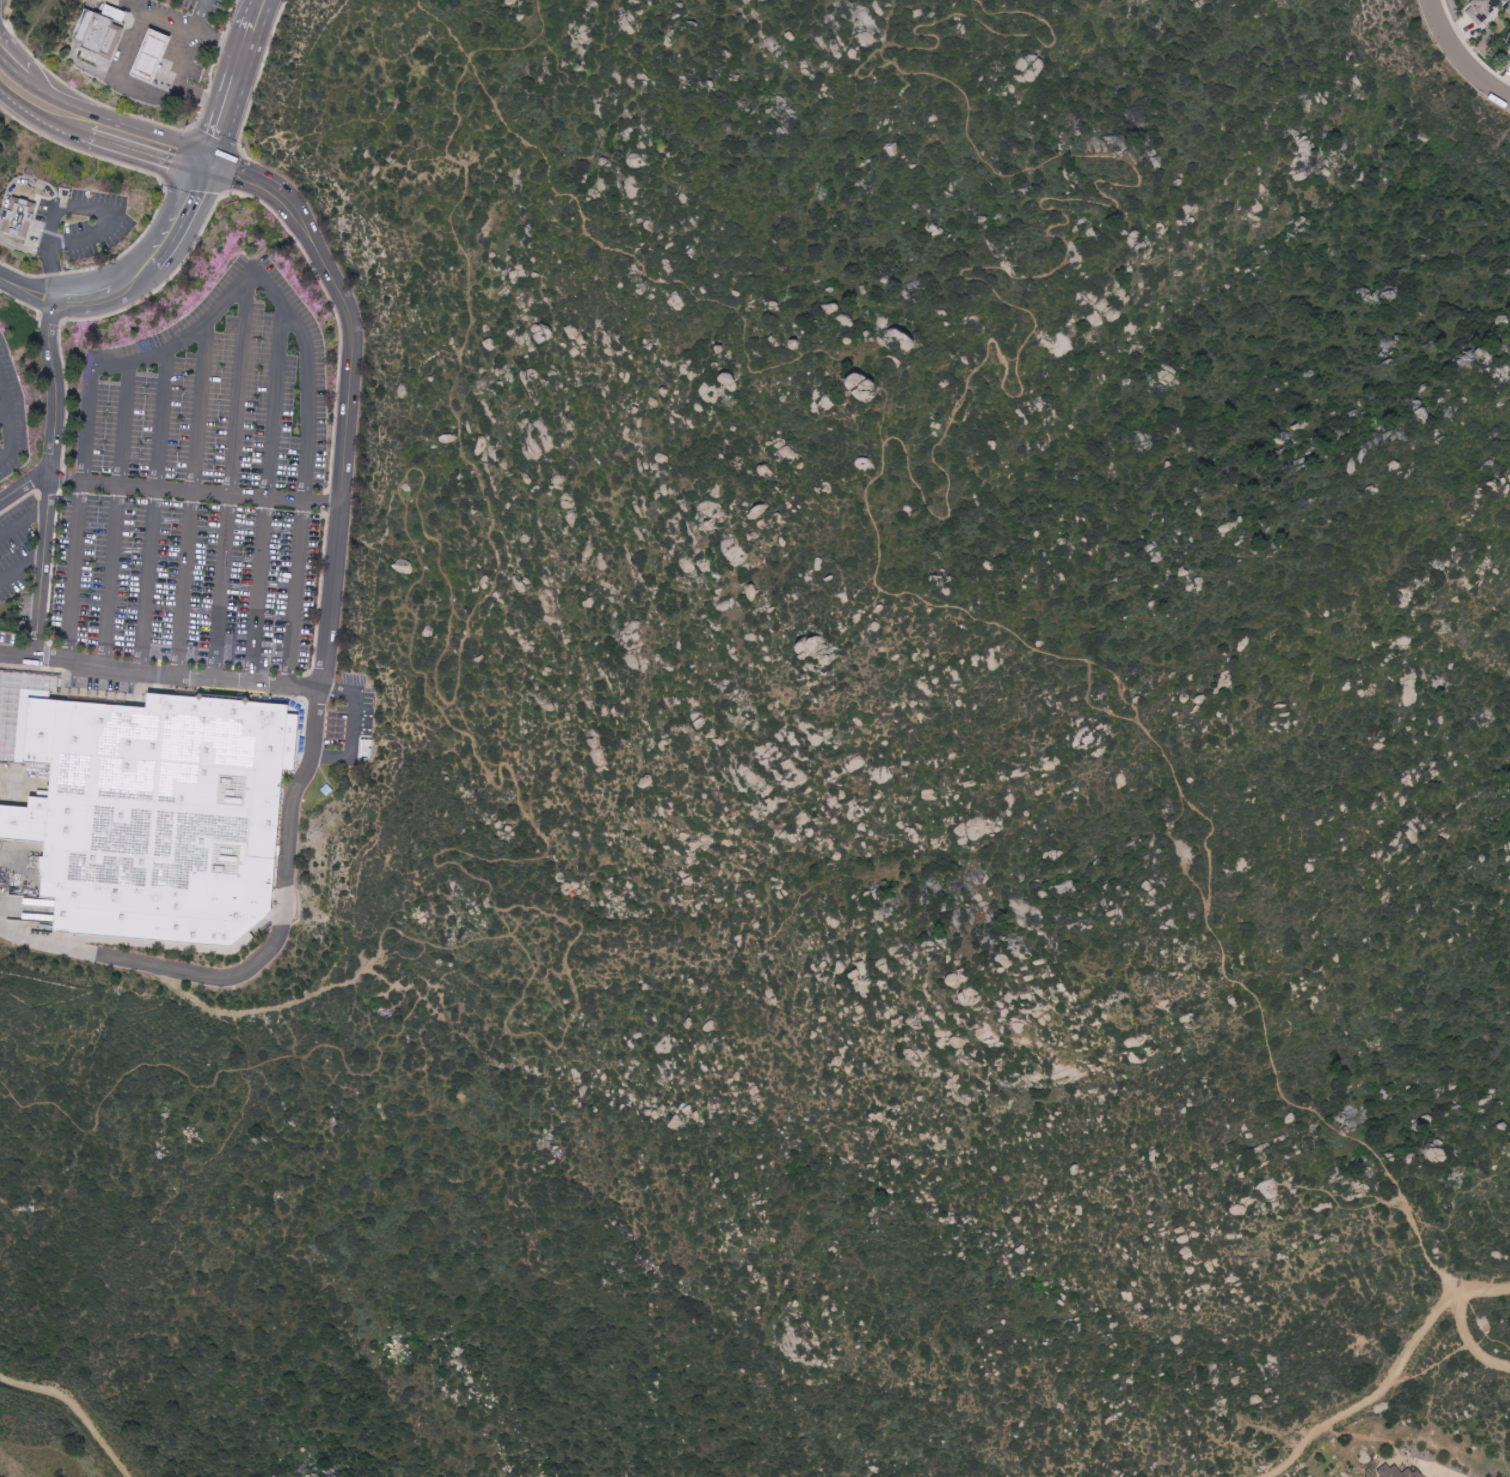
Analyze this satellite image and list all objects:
road: (138, 3)
road: (140, 5)
parking lot: (206, 5)
building: (1482, 10)
road: (258, 11)
building: (114, 12)
road: (201, 13)
road: (169, 16)
building: (97, 33)
road: (219, 38)
road: (133, 42)
building: (1509, 44)
road: (1464, 53)
building: (149, 55)
gas station: (149, 55)
road: (181, 58)
building: (1509, 61)
road: (6, 73)
road: (117, 78)
road: (232, 95)
road: (48, 105)
road: (149, 146)
traffic signals: (212, 167)
road: (245, 179)
road: (20, 181)
road: (83, 205)
road: (187, 214)
building: (19, 218)
parking lot: (83, 222)
road: (26, 249)
road: (137, 275)
road: (8, 281)
road: (237, 290)
road: (36, 291)
road: (85, 296)
road: (4, 413)
parking lot: (10, 415)
road: (8, 416)
road: (348, 433)
road: (52, 476)
road: (231, 479)
parking lot: (200, 484)
road: (24, 486)
road: (196, 491)
road: (267, 495)
road: (193, 497)
road: (157, 508)
road: (117, 511)
road: (23, 520)
parking lot: (18, 545)
road: (23, 563)
road: (159, 673)
road: (353, 726)
building: (153, 813)
road: (286, 911)
road: (48, 943)
road: (1484, 1288)
road: (1479, 1341)
road: (1369, 1397)
road: (78, 1406)
road: (1438, 1469)
building: (1396, 1472)

